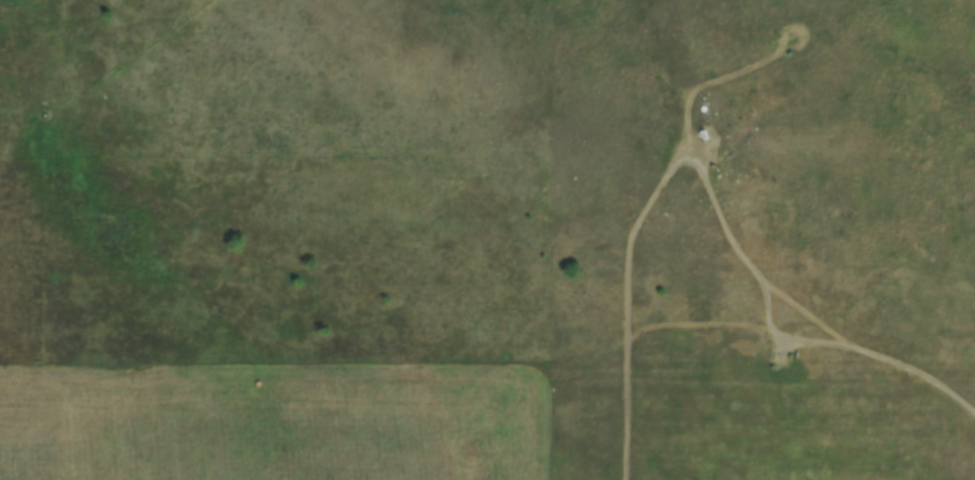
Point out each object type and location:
park: (772, 240)

